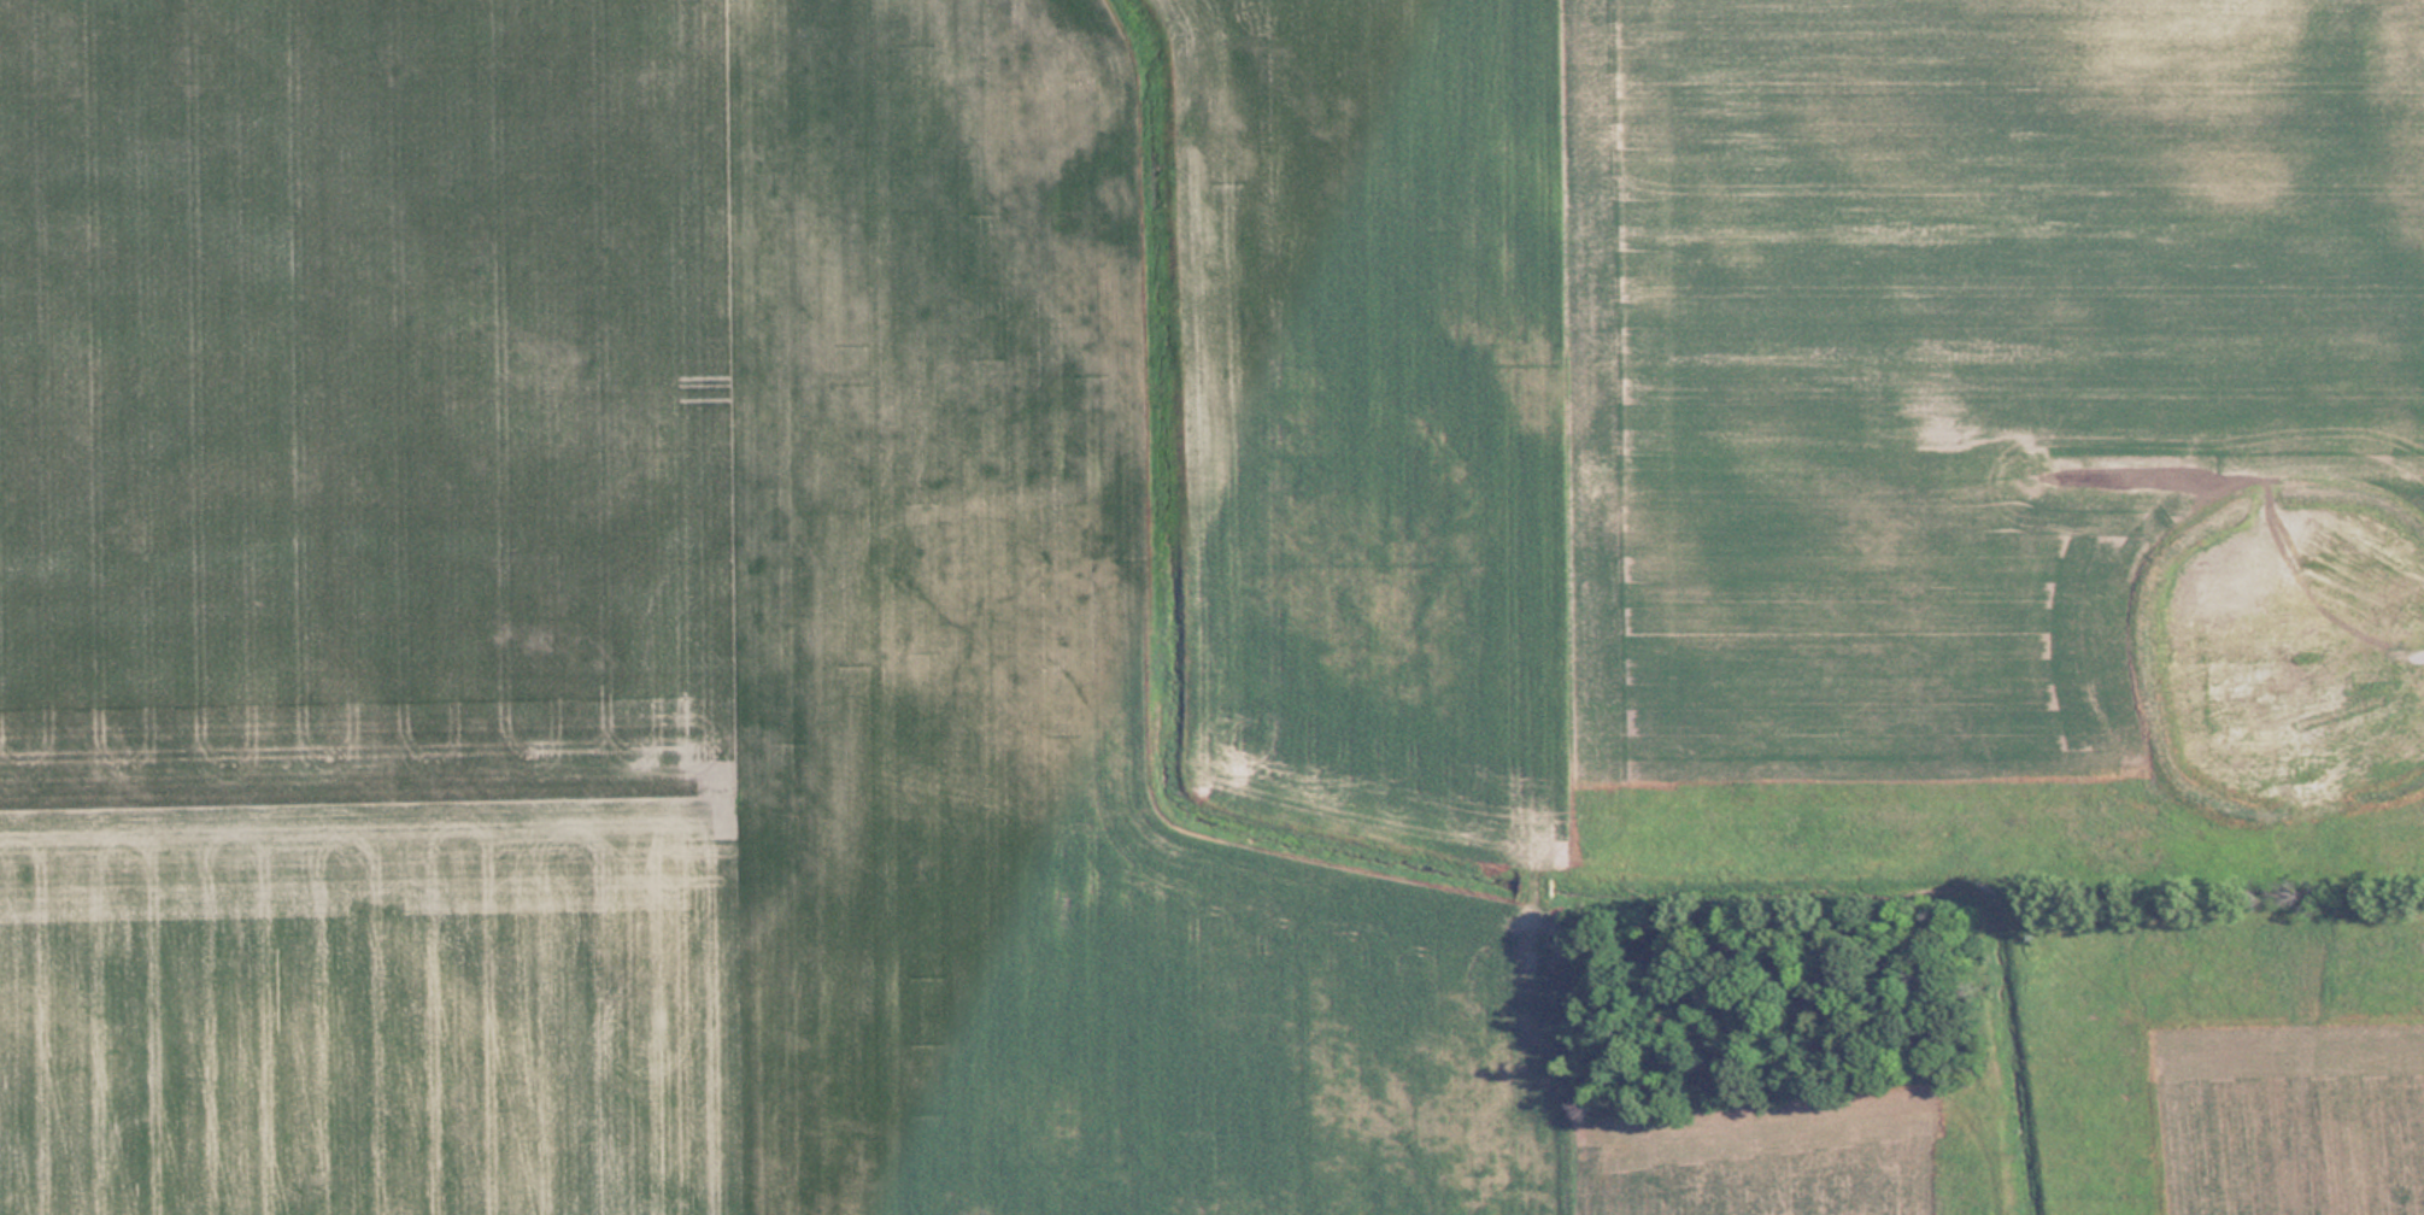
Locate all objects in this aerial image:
wind turbine: (2302, 655)

